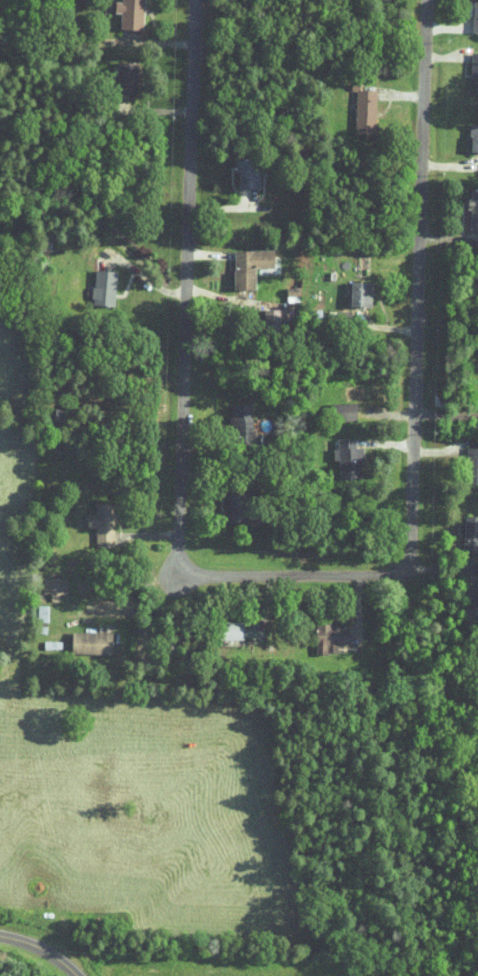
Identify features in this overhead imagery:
building: (120, 11)
building: (469, 13)
road: (452, 15)
road: (164, 22)
road: (446, 56)
building: (469, 66)
building: (117, 71)
road: (398, 99)
road: (160, 100)
building: (355, 106)
building: (469, 131)
road: (450, 152)
building: (238, 167)
road: (218, 195)
building: (468, 200)
road: (449, 225)
building: (239, 261)
road: (214, 272)
building: (93, 282)
building: (282, 288)
building: (351, 288)
road: (147, 291)
building: (264, 312)
road: (392, 316)
road: (416, 347)
road: (183, 402)
building: (334, 405)
building: (231, 414)
road: (446, 414)
road: (209, 435)
road: (386, 449)
building: (337, 451)
building: (467, 458)
road: (442, 461)
road: (206, 489)
building: (226, 501)
building: (92, 518)
building: (463, 527)
road: (144, 534)
road: (444, 563)
building: (44, 581)
road: (344, 599)
road: (253, 600)
building: (229, 624)
building: (320, 631)
building: (81, 636)
road: (45, 945)

